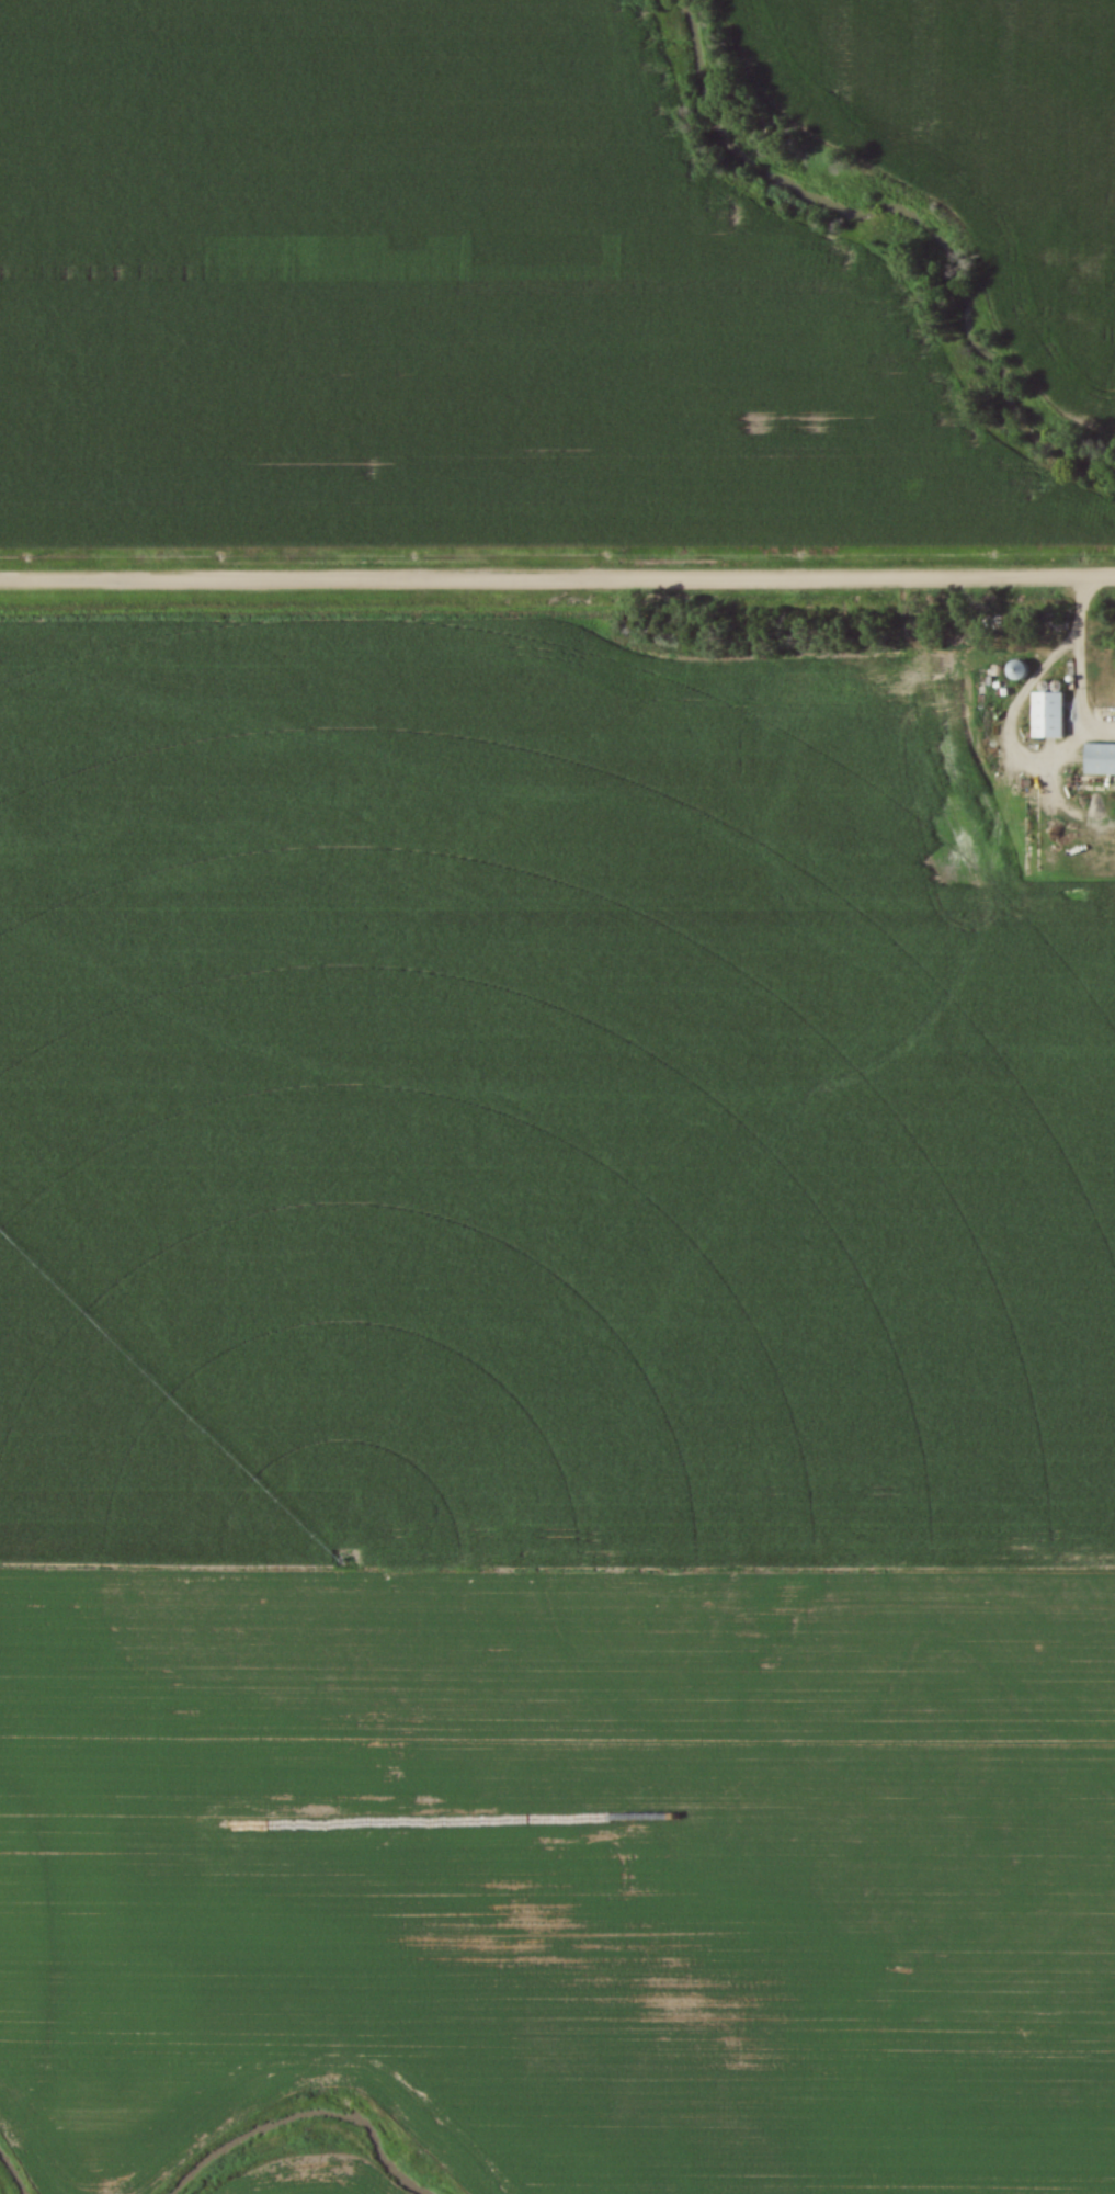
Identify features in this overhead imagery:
crop: (975, 145)
crop: (440, 296)
road: (557, 581)
silo: (1021, 668)
road: (1076, 669)
building: (1022, 670)
silo: (1045, 685)
silo: (1060, 685)
building: (1050, 714)
building: (1101, 757)
crop: (545, 1415)
crop: (303, 2190)

